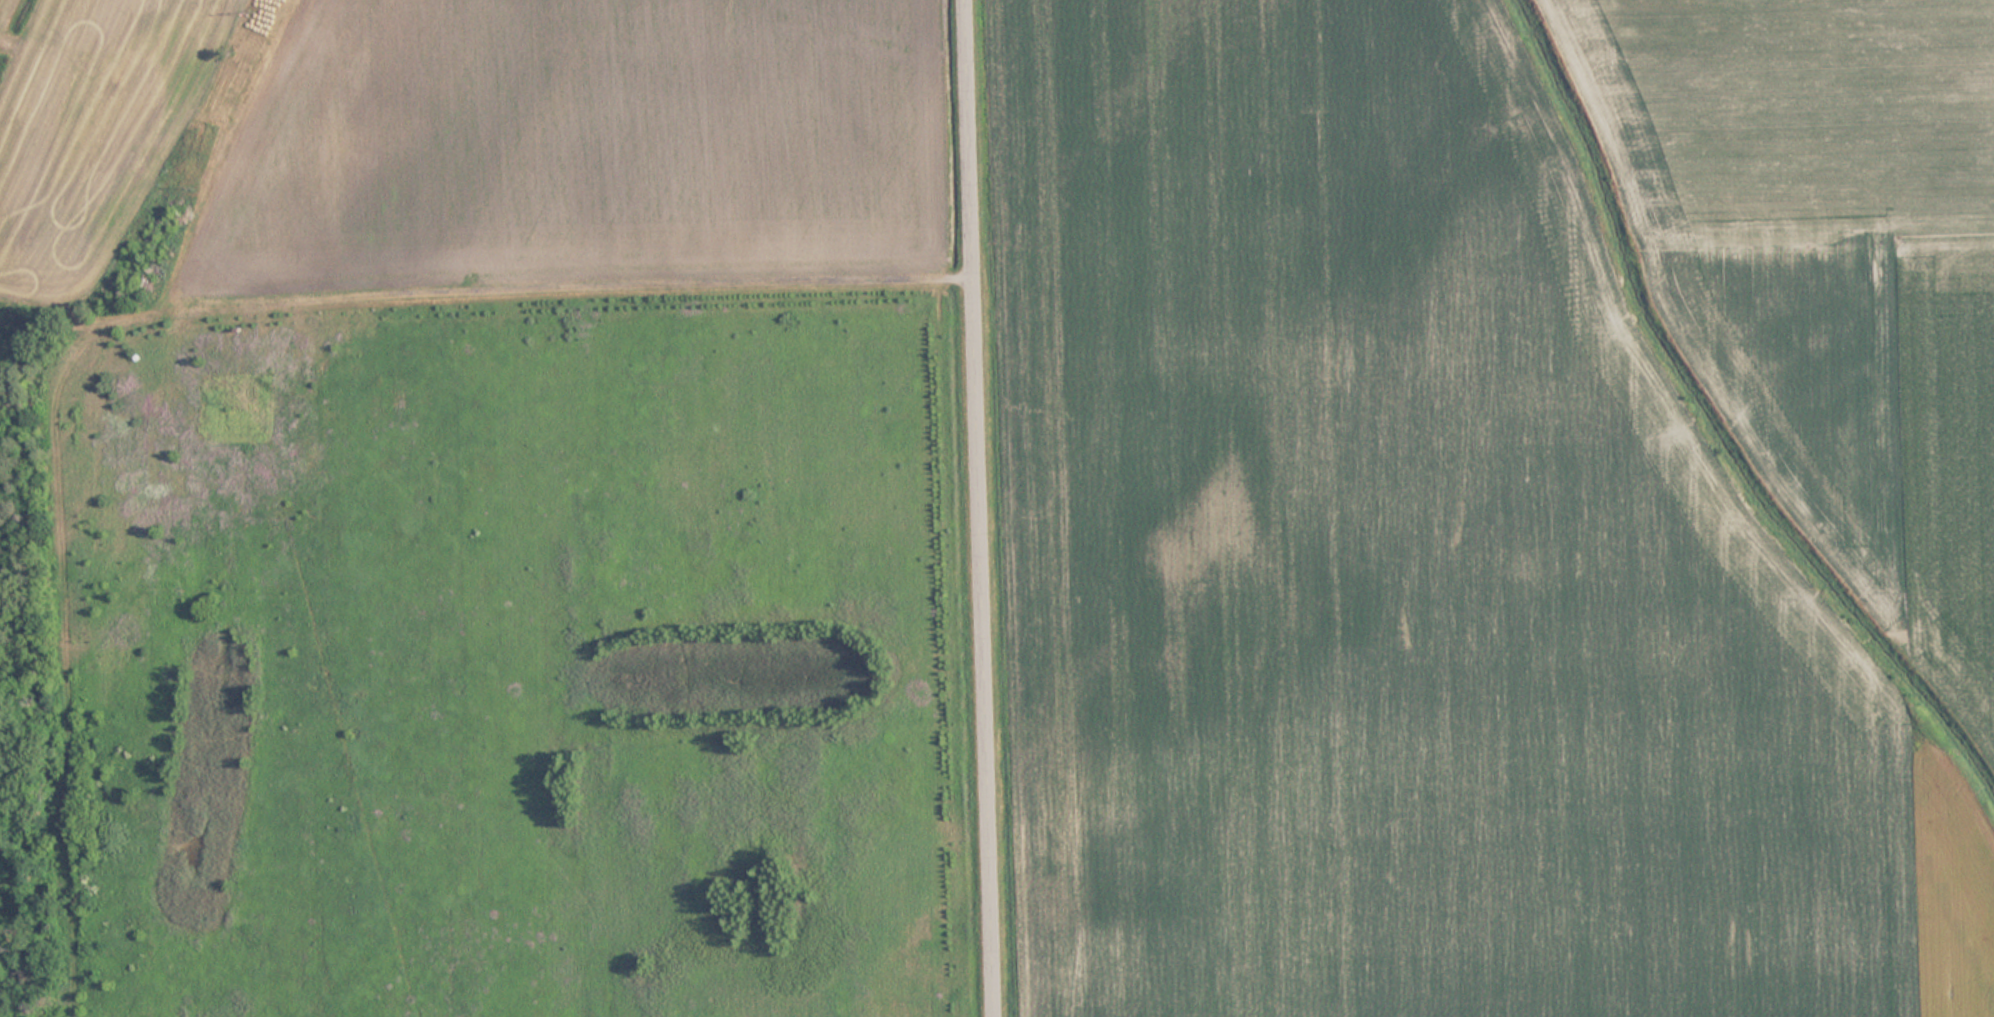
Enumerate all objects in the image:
road: (982, 508)

